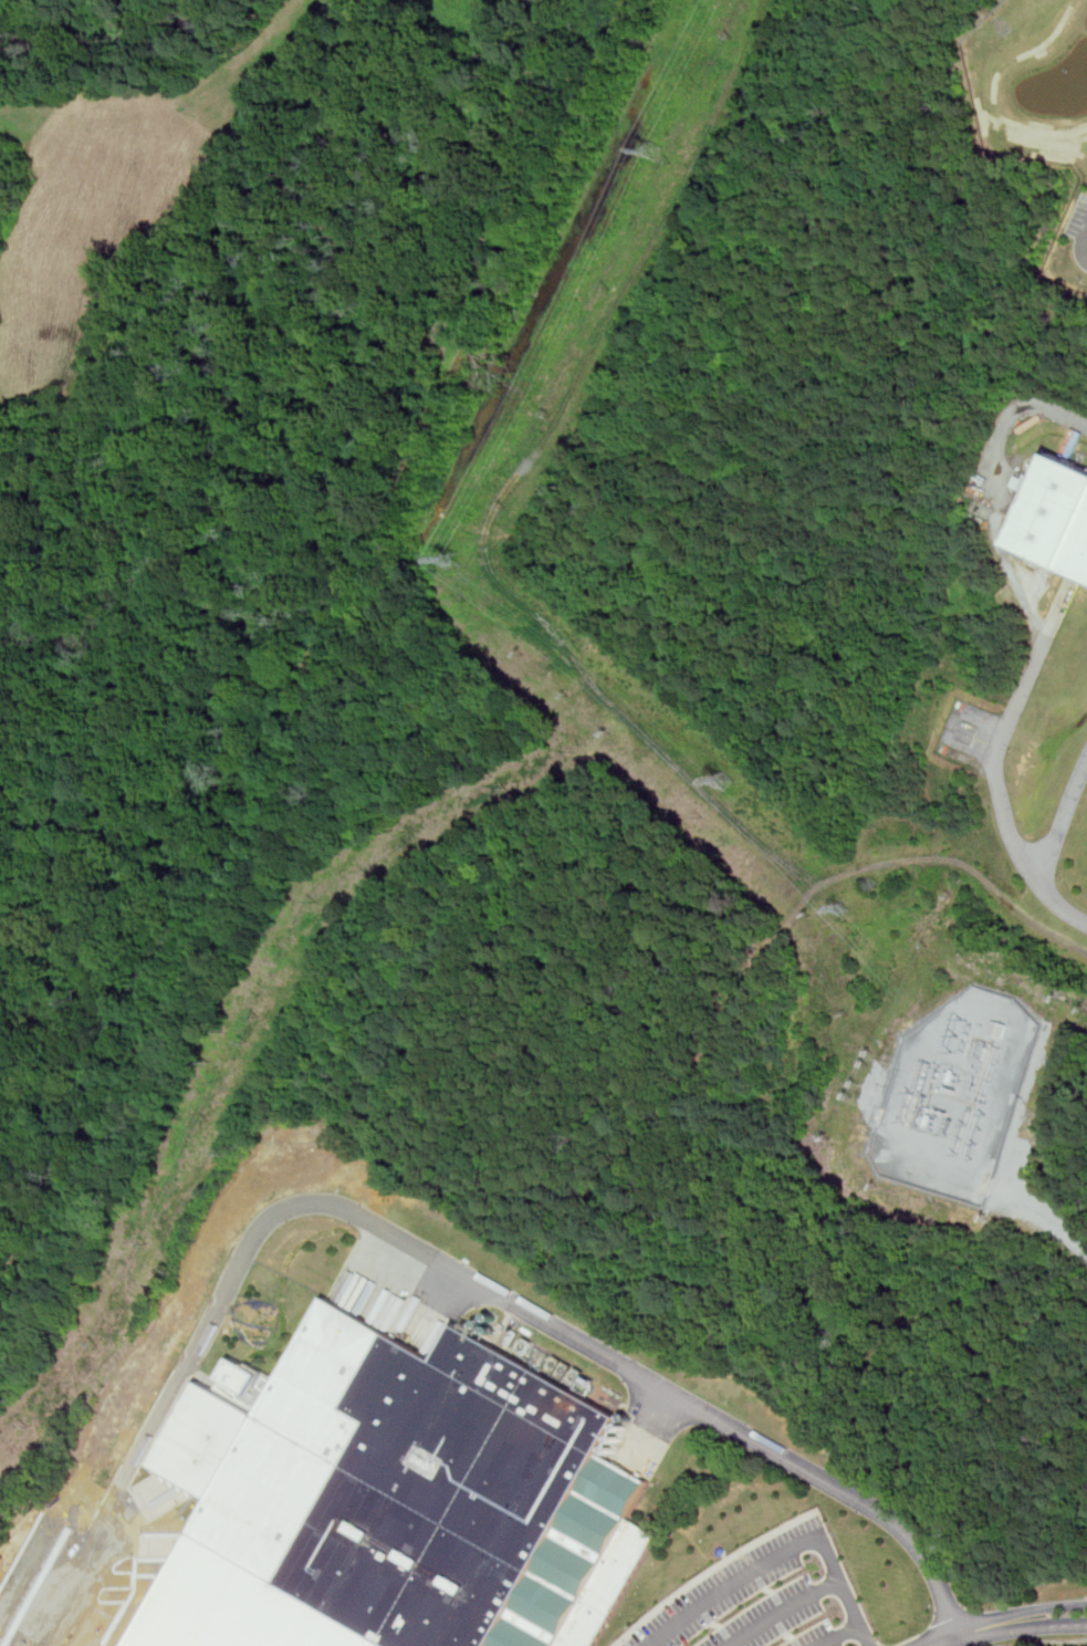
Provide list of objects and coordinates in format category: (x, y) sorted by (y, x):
power tower: (662, 155)
road: (1081, 247)
road: (993, 491)
building: (1060, 515)
power tower: (461, 561)
road: (533, 611)
road: (994, 760)
power tower: (732, 780)
road: (1063, 816)
power tower: (855, 908)
building: (996, 1029)
power tower: (940, 1072)
power substation: (958, 1095)
road: (431, 1254)
building: (839, 1454)
building: (432, 1491)
road: (776, 1553)
building: (212, 1612)
road: (784, 1612)
road: (1018, 1615)
road: (1020, 1628)
road: (835, 1635)
road: (1048, 1642)
road: (941, 1643)

